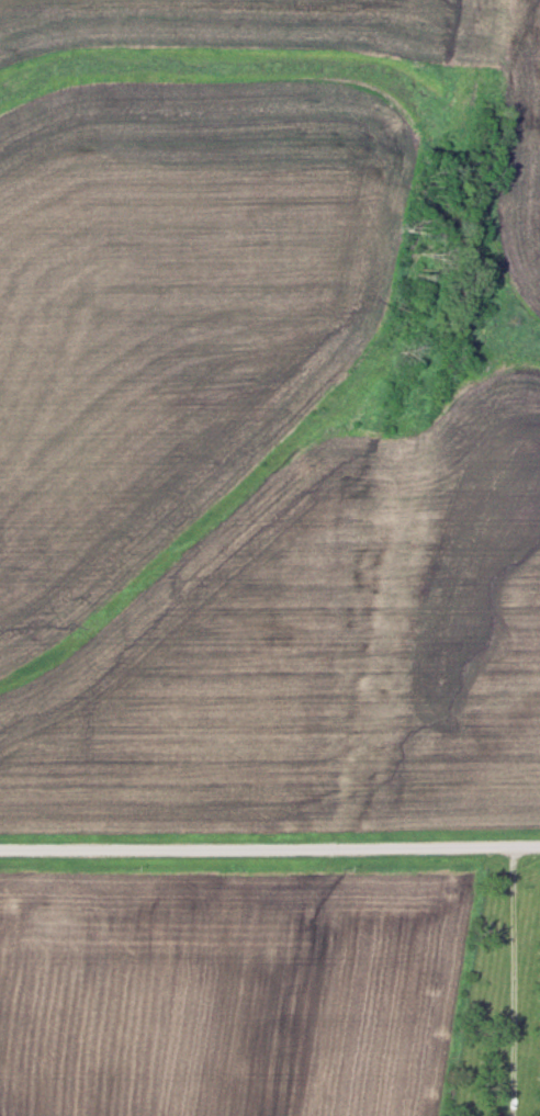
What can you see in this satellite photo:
road: (270, 848)
road: (513, 967)

